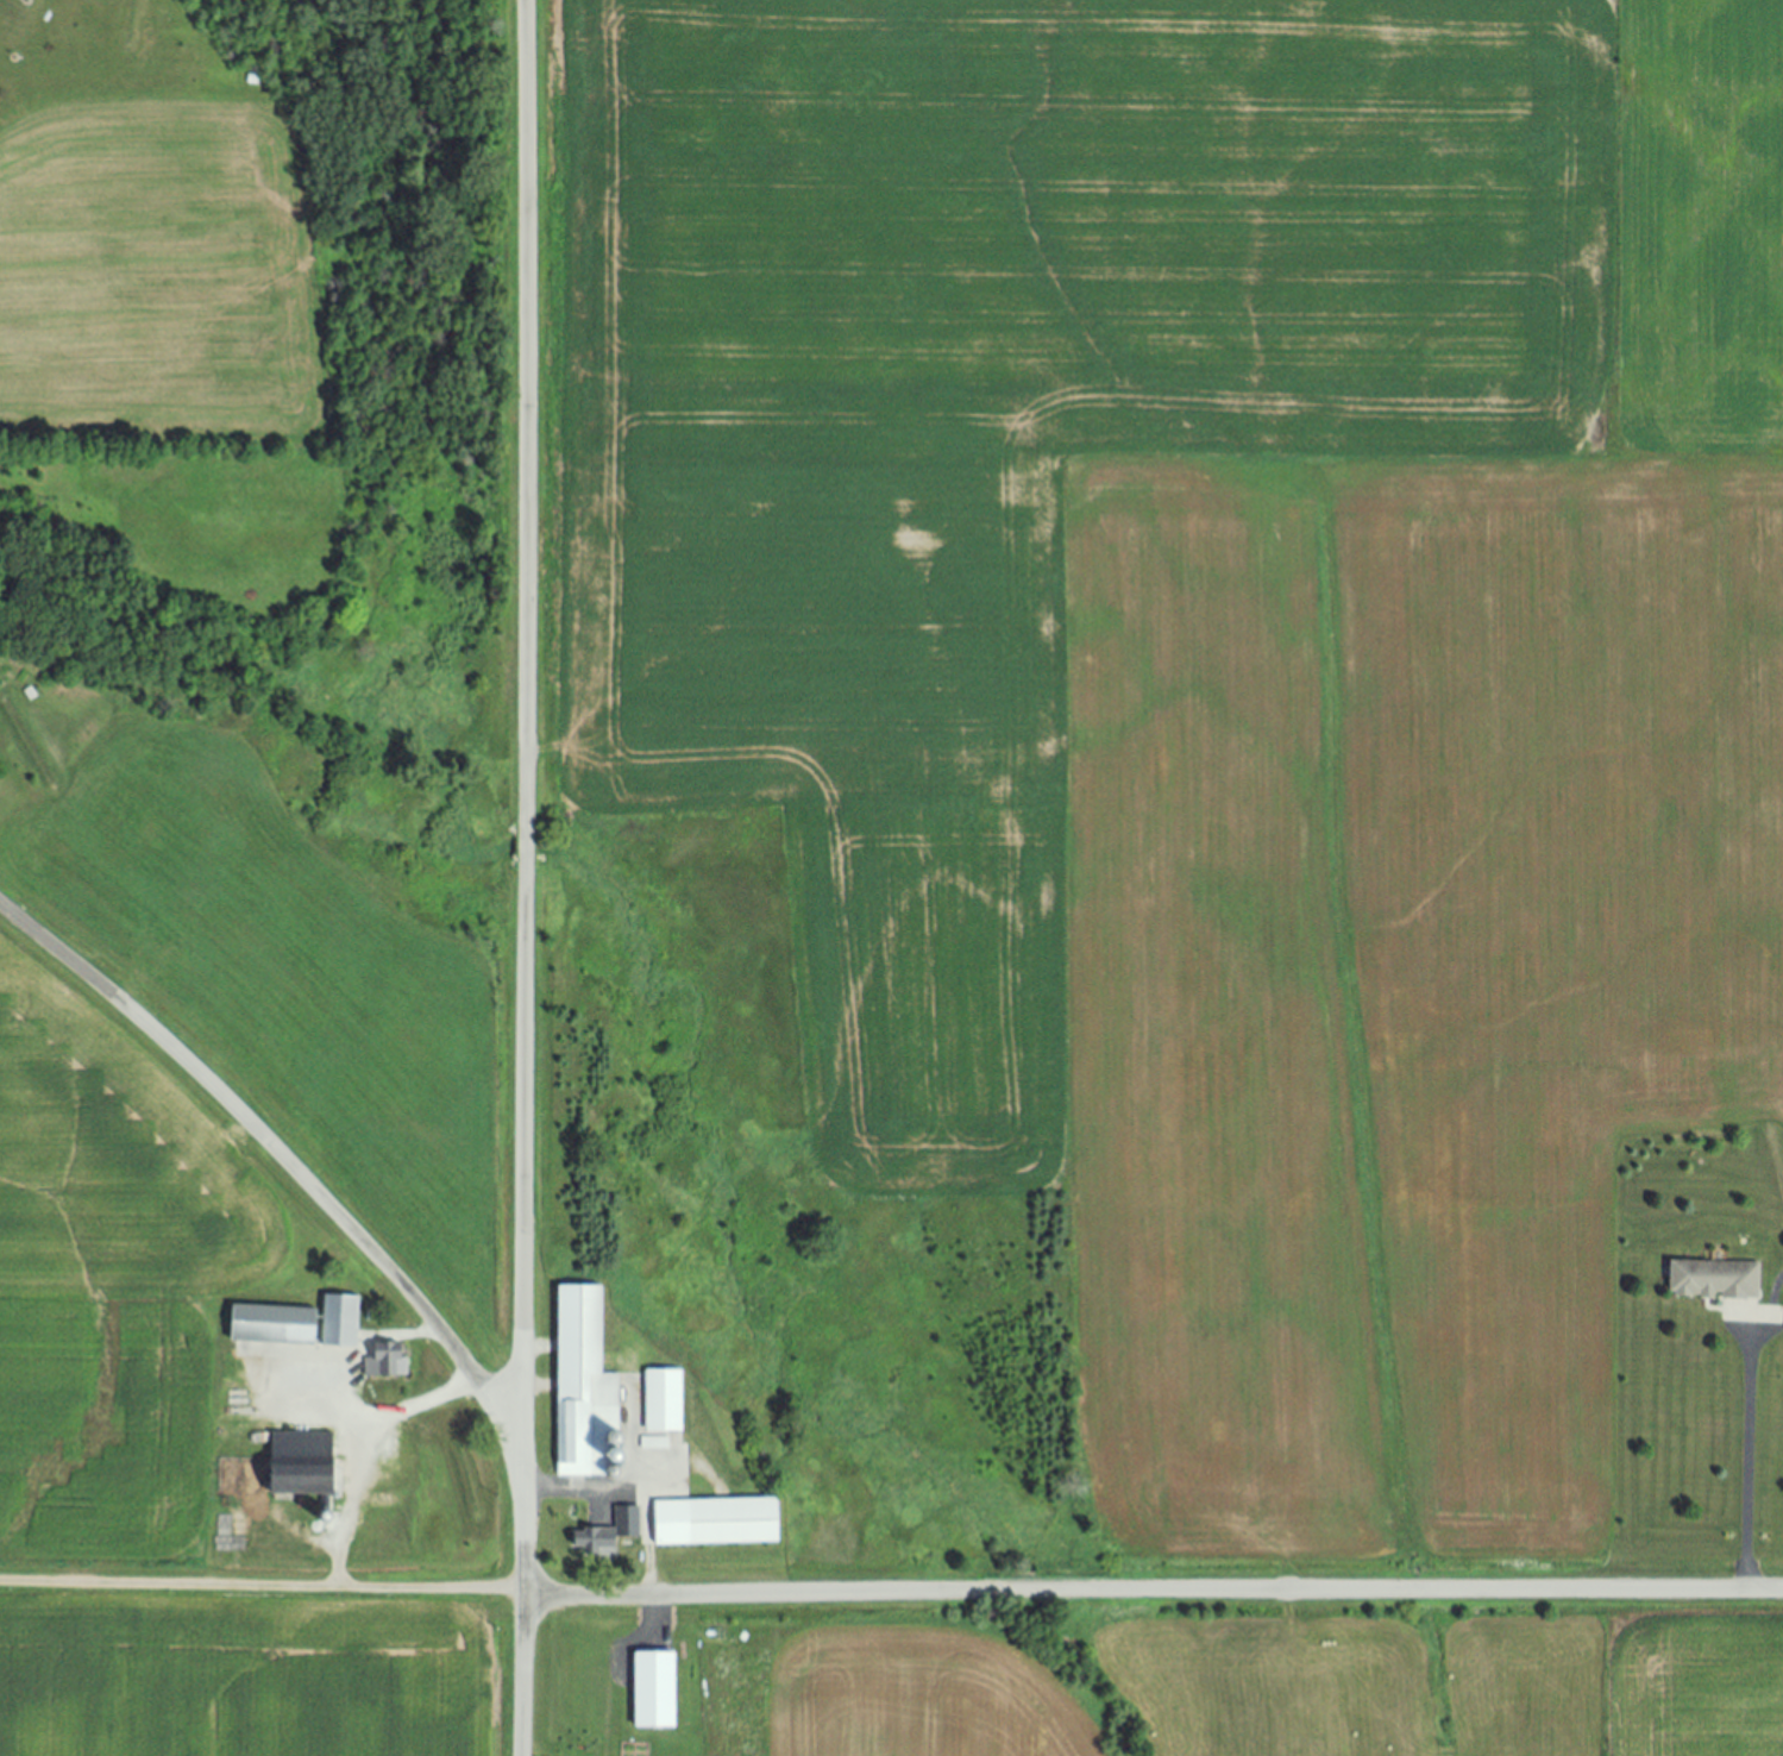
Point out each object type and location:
road: (525, 878)
road: (276, 1155)
building: (1715, 1281)
building: (341, 1322)
building: (275, 1327)
building: (385, 1362)
building: (585, 1388)
building: (664, 1401)
road: (359, 1448)
building: (303, 1465)
road: (1746, 1468)
building: (667, 1487)
road: (633, 1488)
building: (735, 1523)
building: (609, 1535)
road: (891, 1593)
building: (653, 1693)

